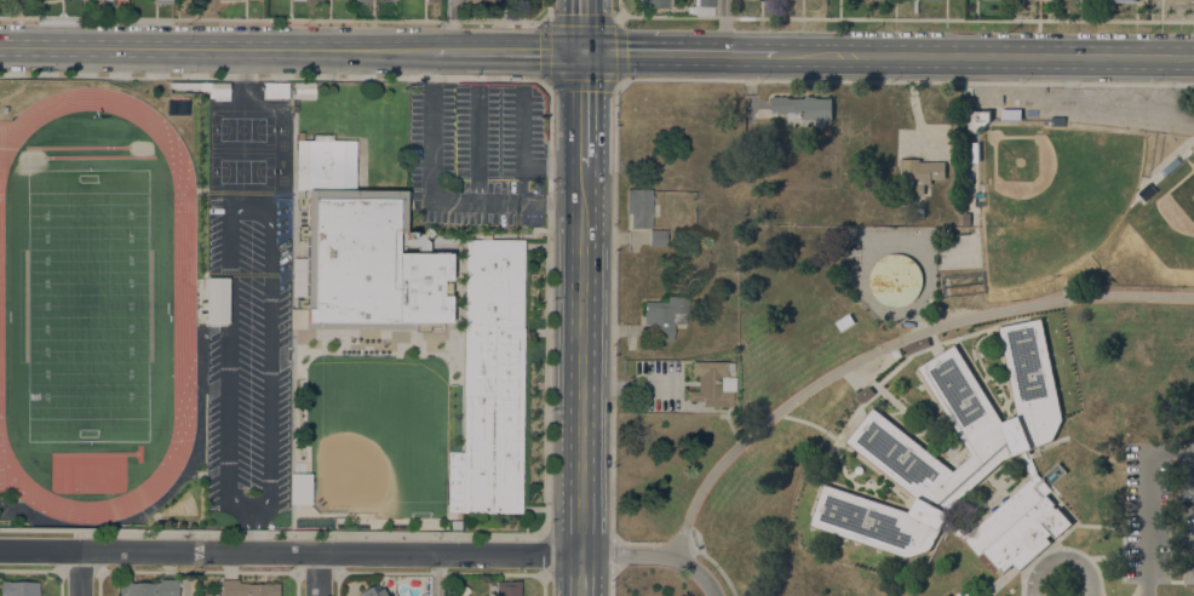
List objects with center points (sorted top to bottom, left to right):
building: (295, 0)
building: (361, 0)
building: (431, 0)
building: (478, 0)
building: (1121, 0)
building: (160, 1)
building: (705, 2)
building: (654, 4)
building: (702, 11)
road: (894, 17)
road: (283, 19)
road: (616, 23)
road: (448, 24)
road: (580, 25)
road: (724, 25)
road: (216, 47)
road: (506, 50)
traffic signals: (580, 52)
road: (678, 52)
road: (986, 55)
road: (499, 79)
road: (678, 80)
building: (207, 88)
building: (275, 90)
building: (303, 90)
building: (800, 107)
parking lot: (1131, 108)
road: (580, 109)
building: (1011, 114)
building: (978, 119)
building: (1056, 120)
road: (476, 144)
park: (242, 149)
building: (1193, 149)
building: (972, 151)
road: (518, 159)
building: (918, 172)
building: (1147, 191)
road: (430, 199)
building: (978, 199)
park: (1057, 200)
building: (637, 208)
road: (247, 211)
building: (919, 212)
building: (966, 218)
building: (655, 237)
building: (362, 252)
building: (895, 279)
storage tank: (895, 279)
building: (1085, 280)
building: (216, 299)
park: (87, 305)
track: (184, 305)
building: (664, 315)
building: (844, 321)
road: (886, 344)
building: (917, 345)
building: (896, 353)
building: (489, 382)
road: (580, 382)
building: (710, 383)
building: (727, 384)
building: (865, 394)
park: (378, 436)
building: (1001, 445)
road: (1147, 499)
building: (454, 525)
road: (251, 534)
road: (683, 548)
road: (289, 552)
road: (544, 554)
road: (614, 554)
road: (655, 555)
road: (1061, 560)
road: (80, 574)
road: (317, 574)
road: (436, 574)
road: (610, 581)
road: (541, 584)
building: (18, 588)
building: (148, 588)
building: (247, 589)
building: (507, 589)
building: (373, 590)

